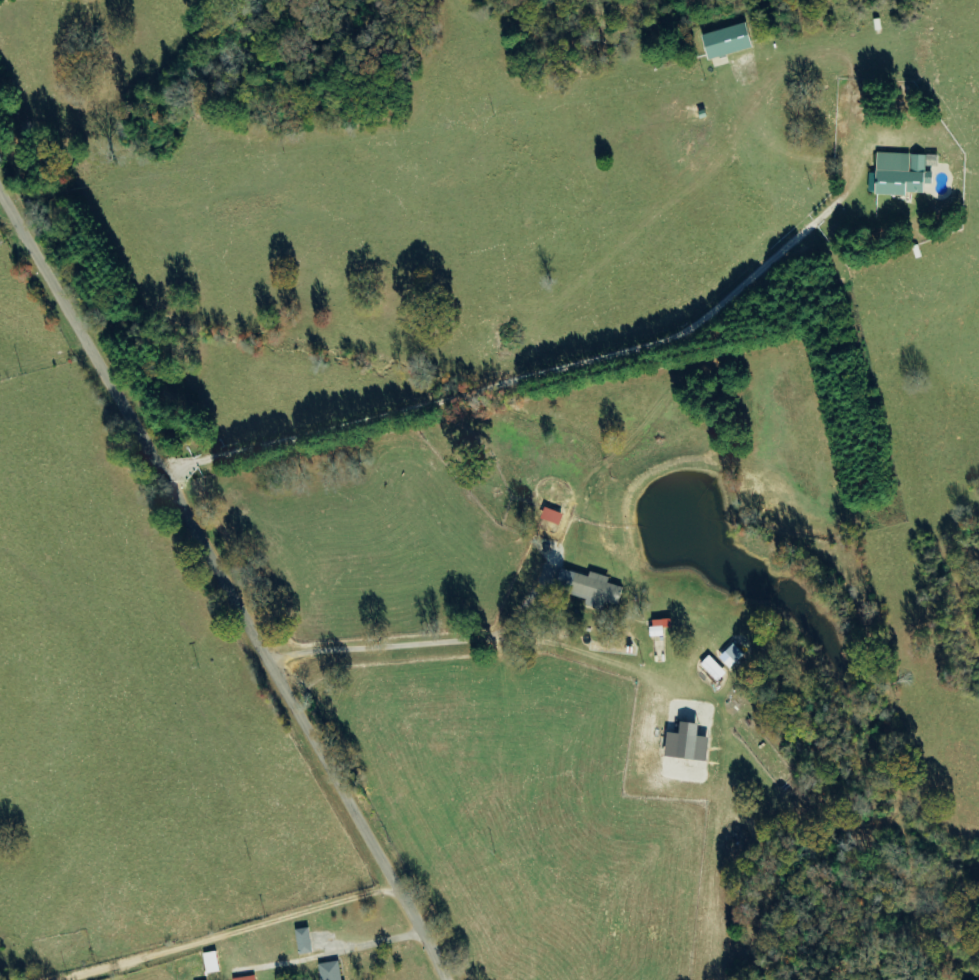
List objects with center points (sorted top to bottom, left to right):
building: (731, 40)
building: (902, 174)
building: (554, 515)
road: (225, 586)
building: (593, 588)
building: (663, 626)
building: (734, 656)
building: (715, 669)
building: (692, 743)
road: (233, 932)
building: (306, 941)
building: (214, 962)
building: (333, 971)
building: (250, 978)

